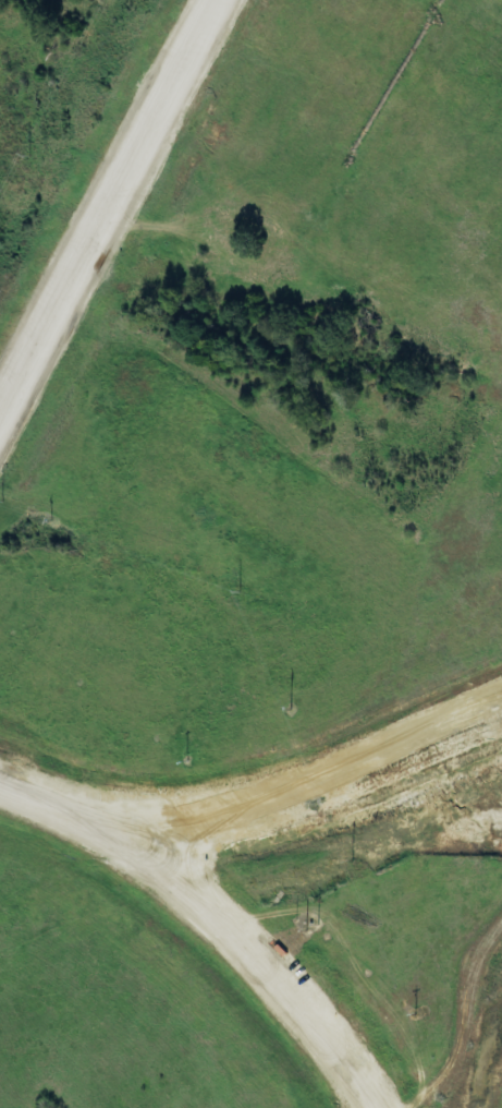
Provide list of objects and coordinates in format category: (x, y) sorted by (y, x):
road: (110, 213)
road: (306, 792)
road: (213, 916)

